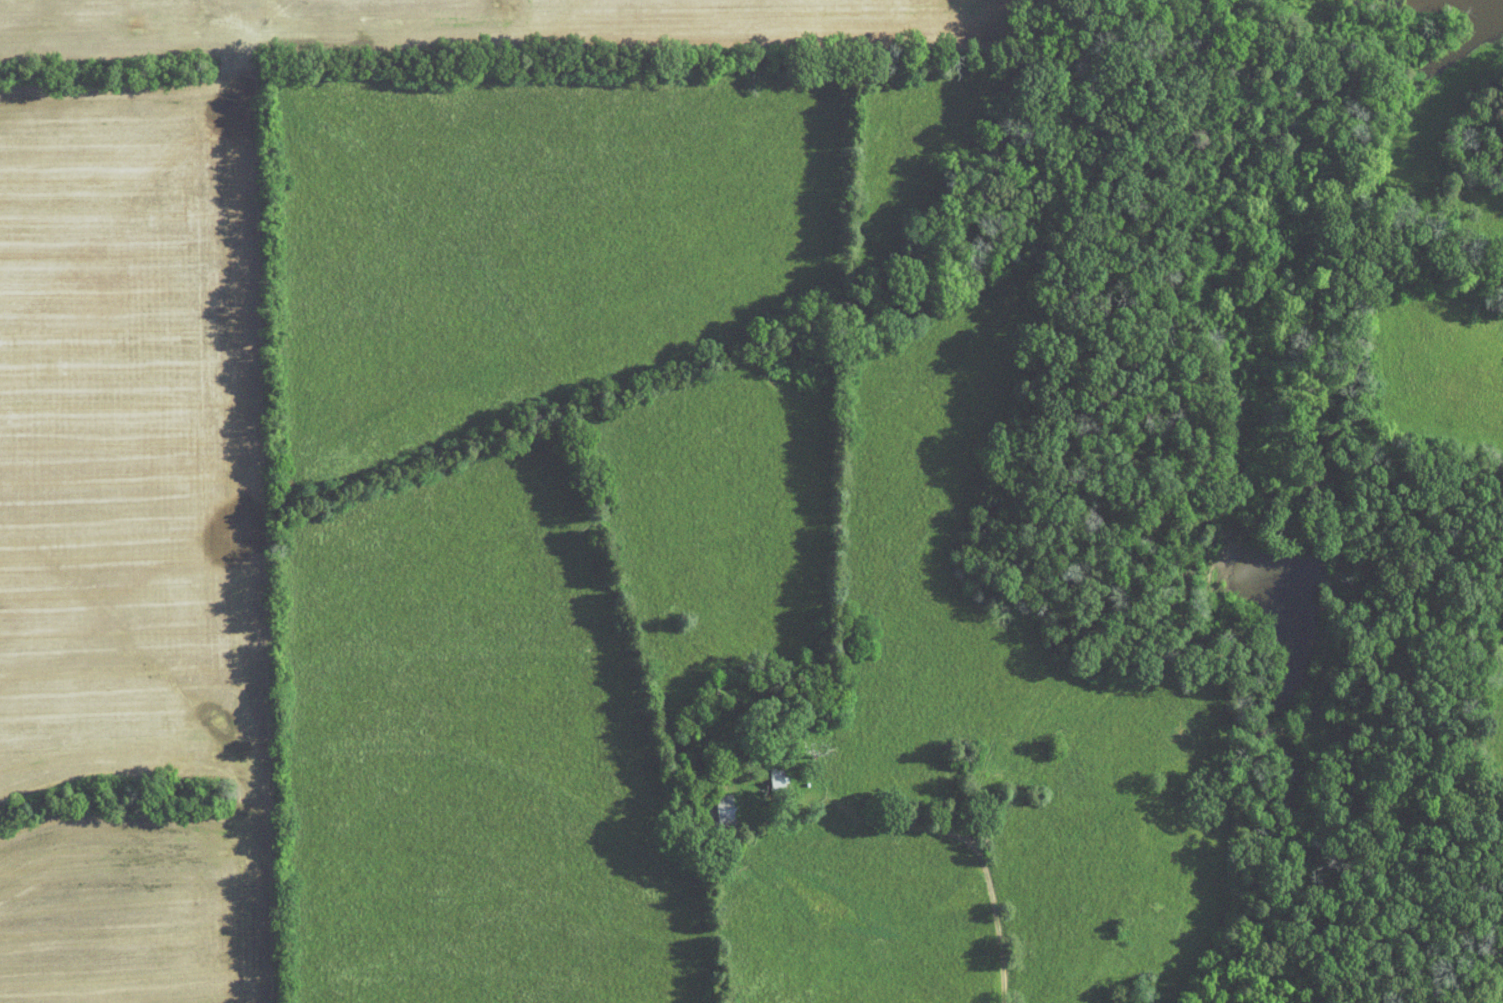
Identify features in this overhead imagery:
building: (715, 802)

